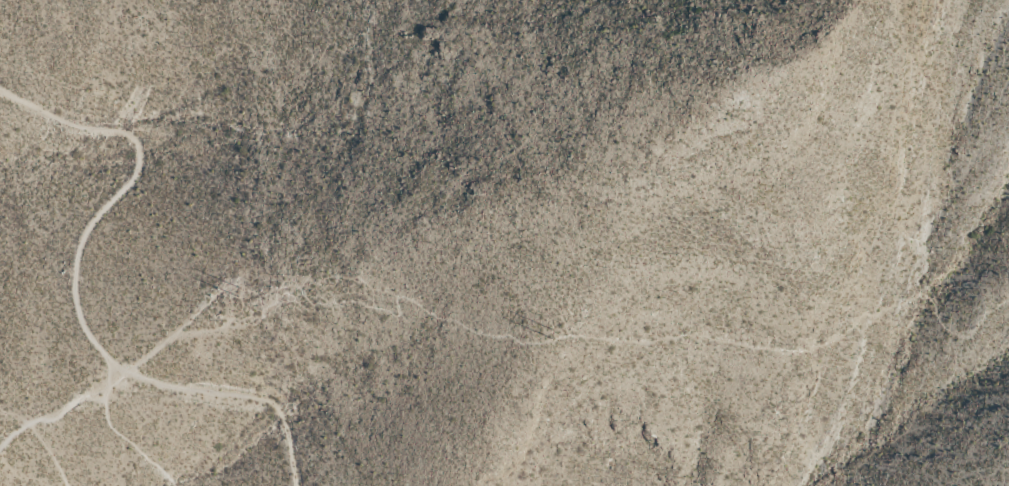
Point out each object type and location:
road: (87, 242)
road: (619, 342)
road: (239, 394)
road: (49, 414)
road: (124, 435)
road: (36, 446)

